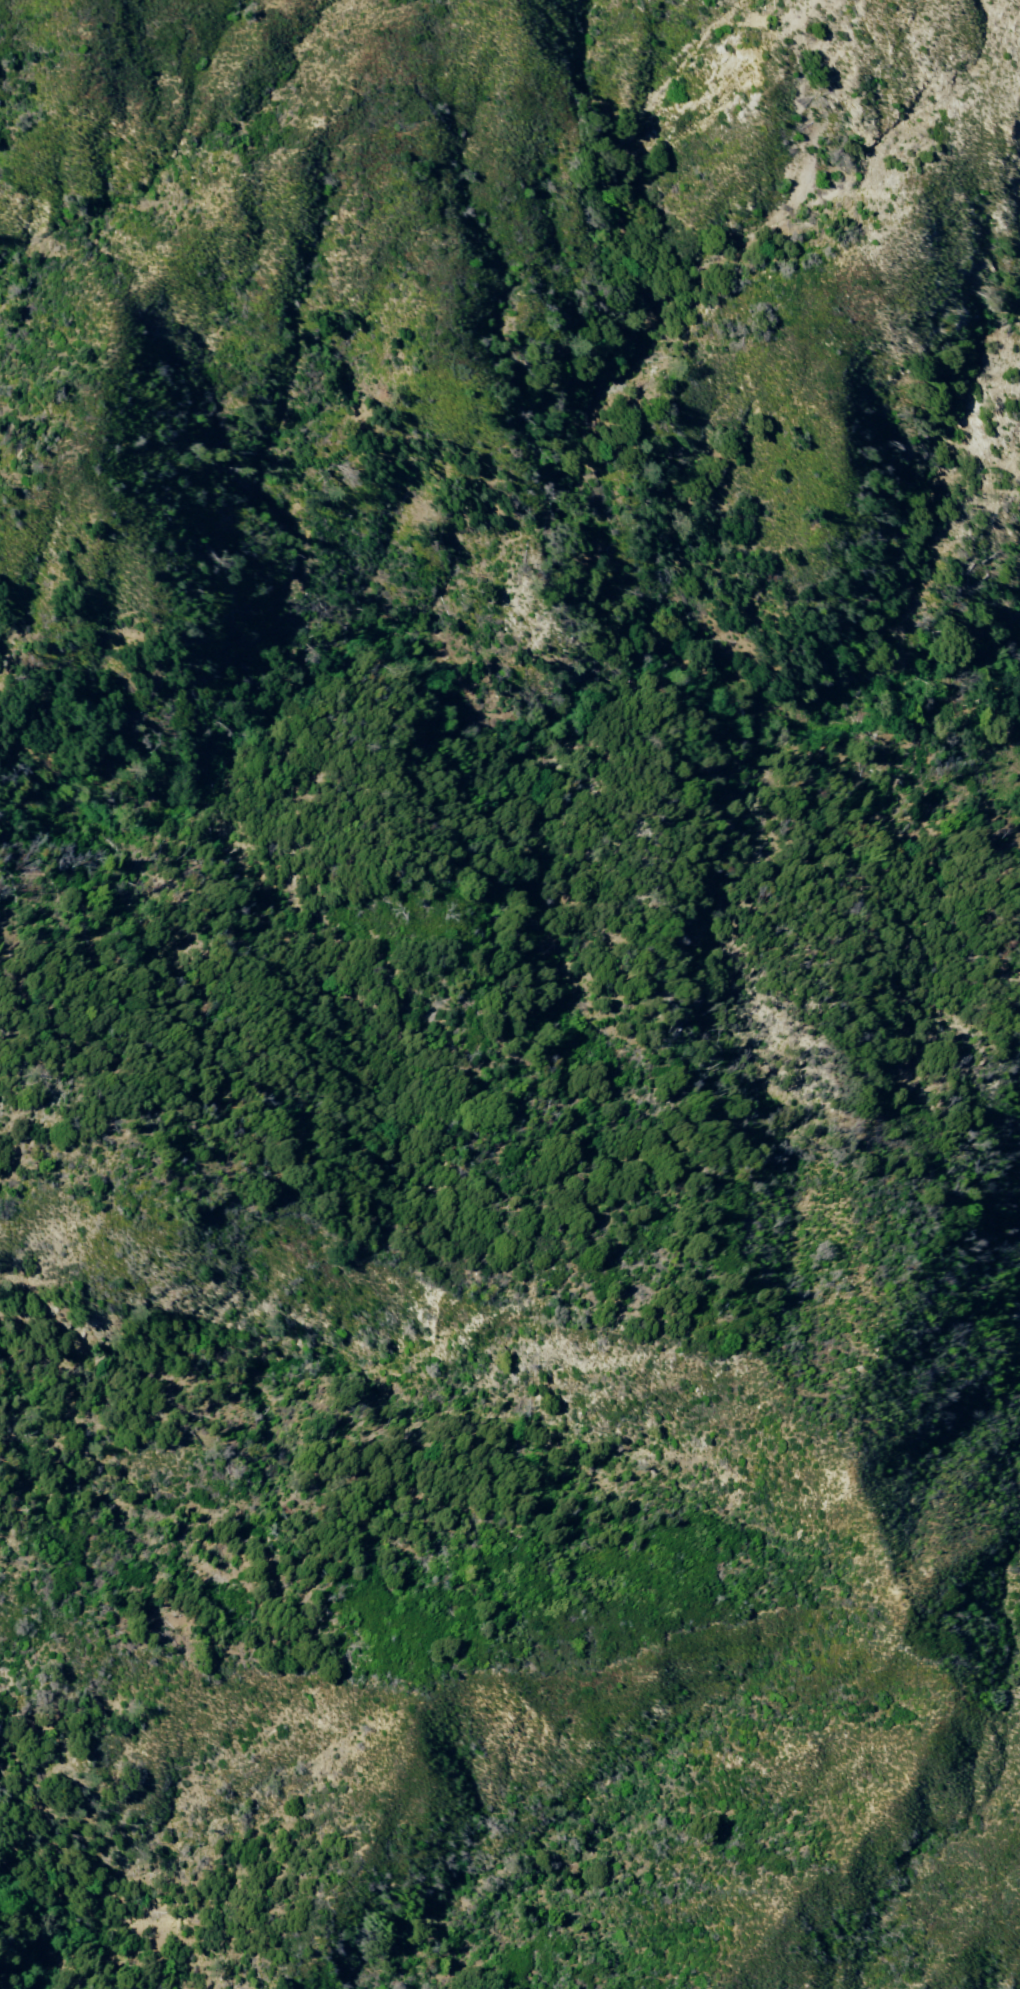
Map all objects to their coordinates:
road: (493, 768)

